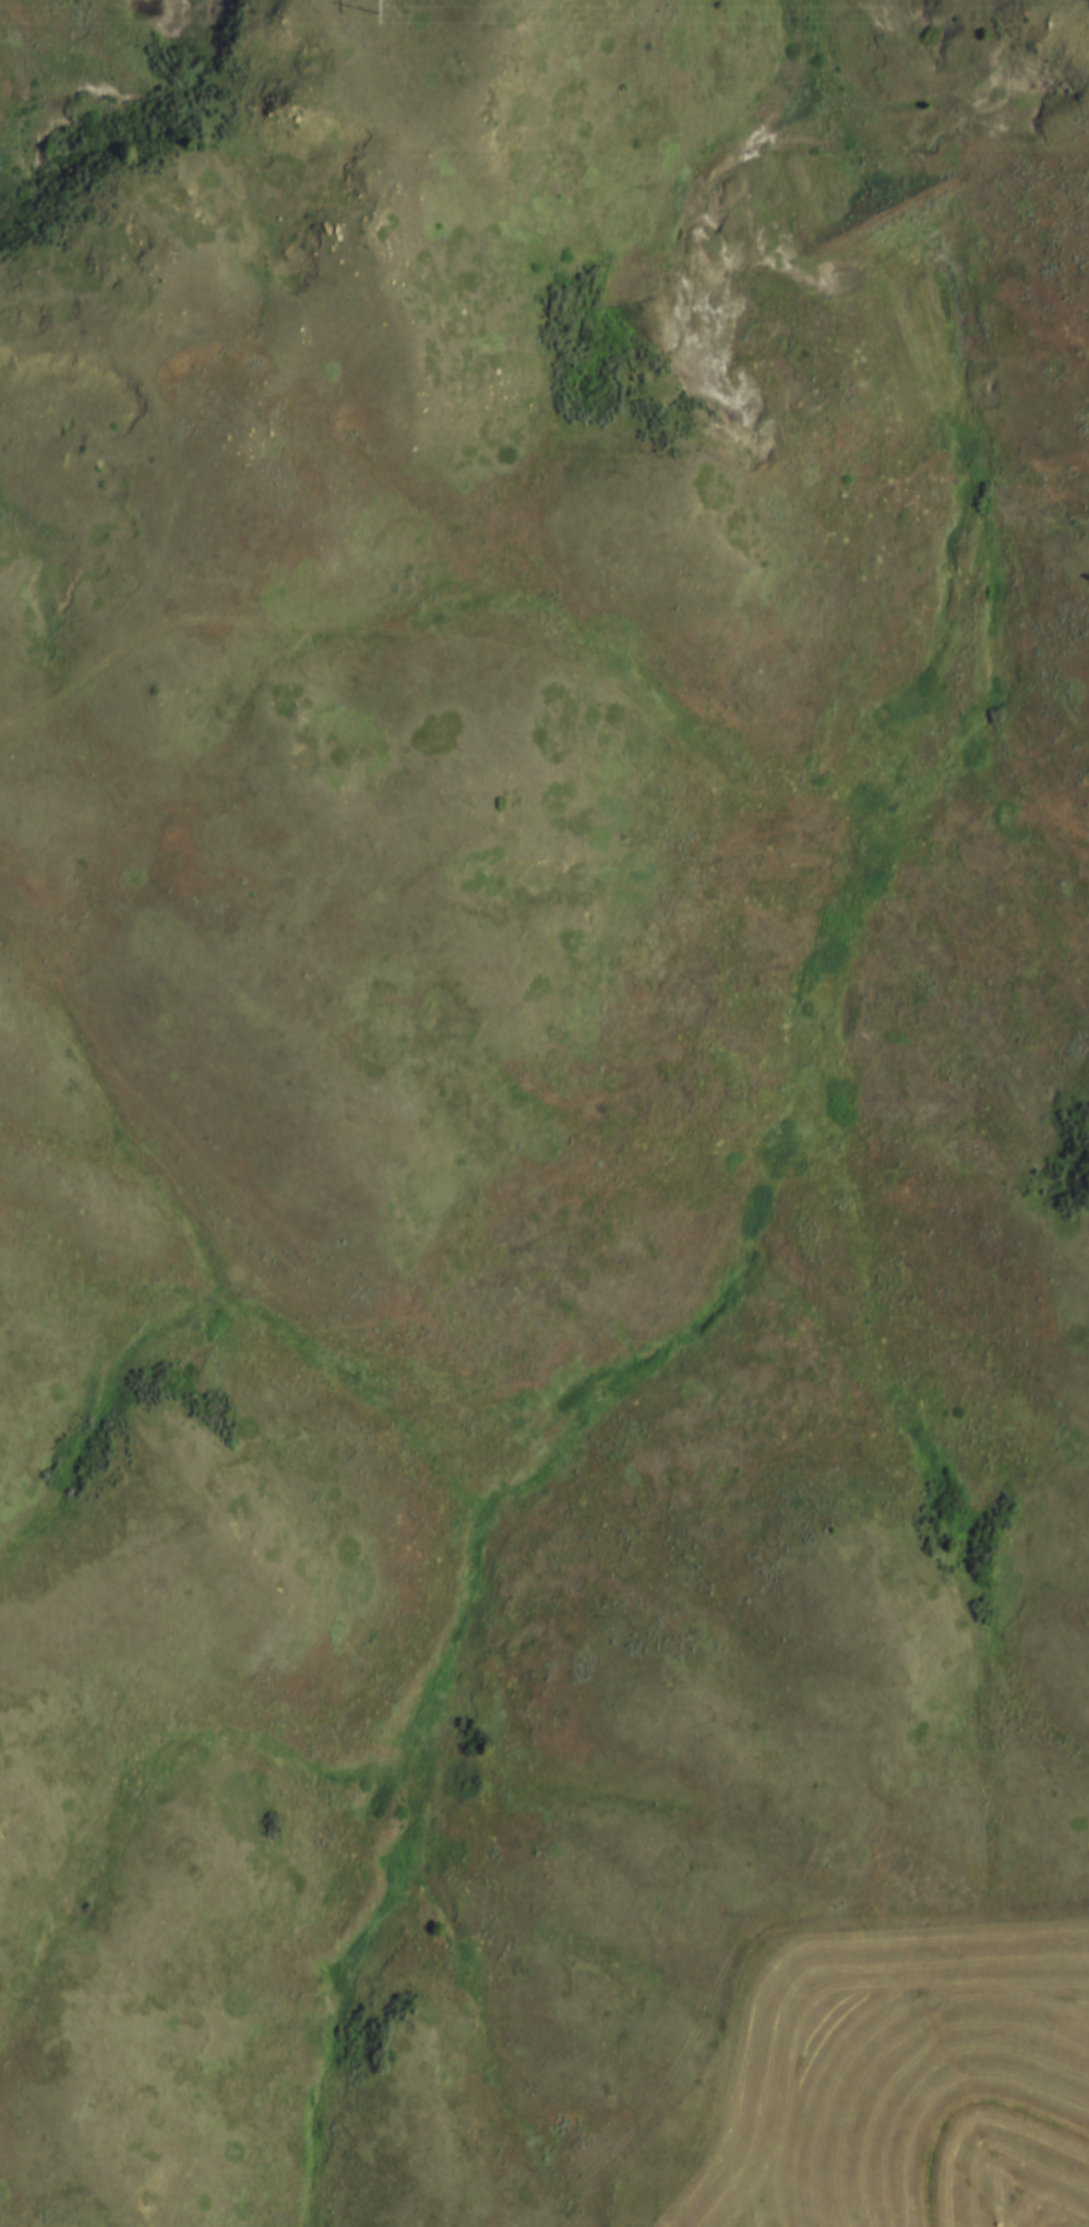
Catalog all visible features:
power tower: (384, 7)
road: (743, 1968)

